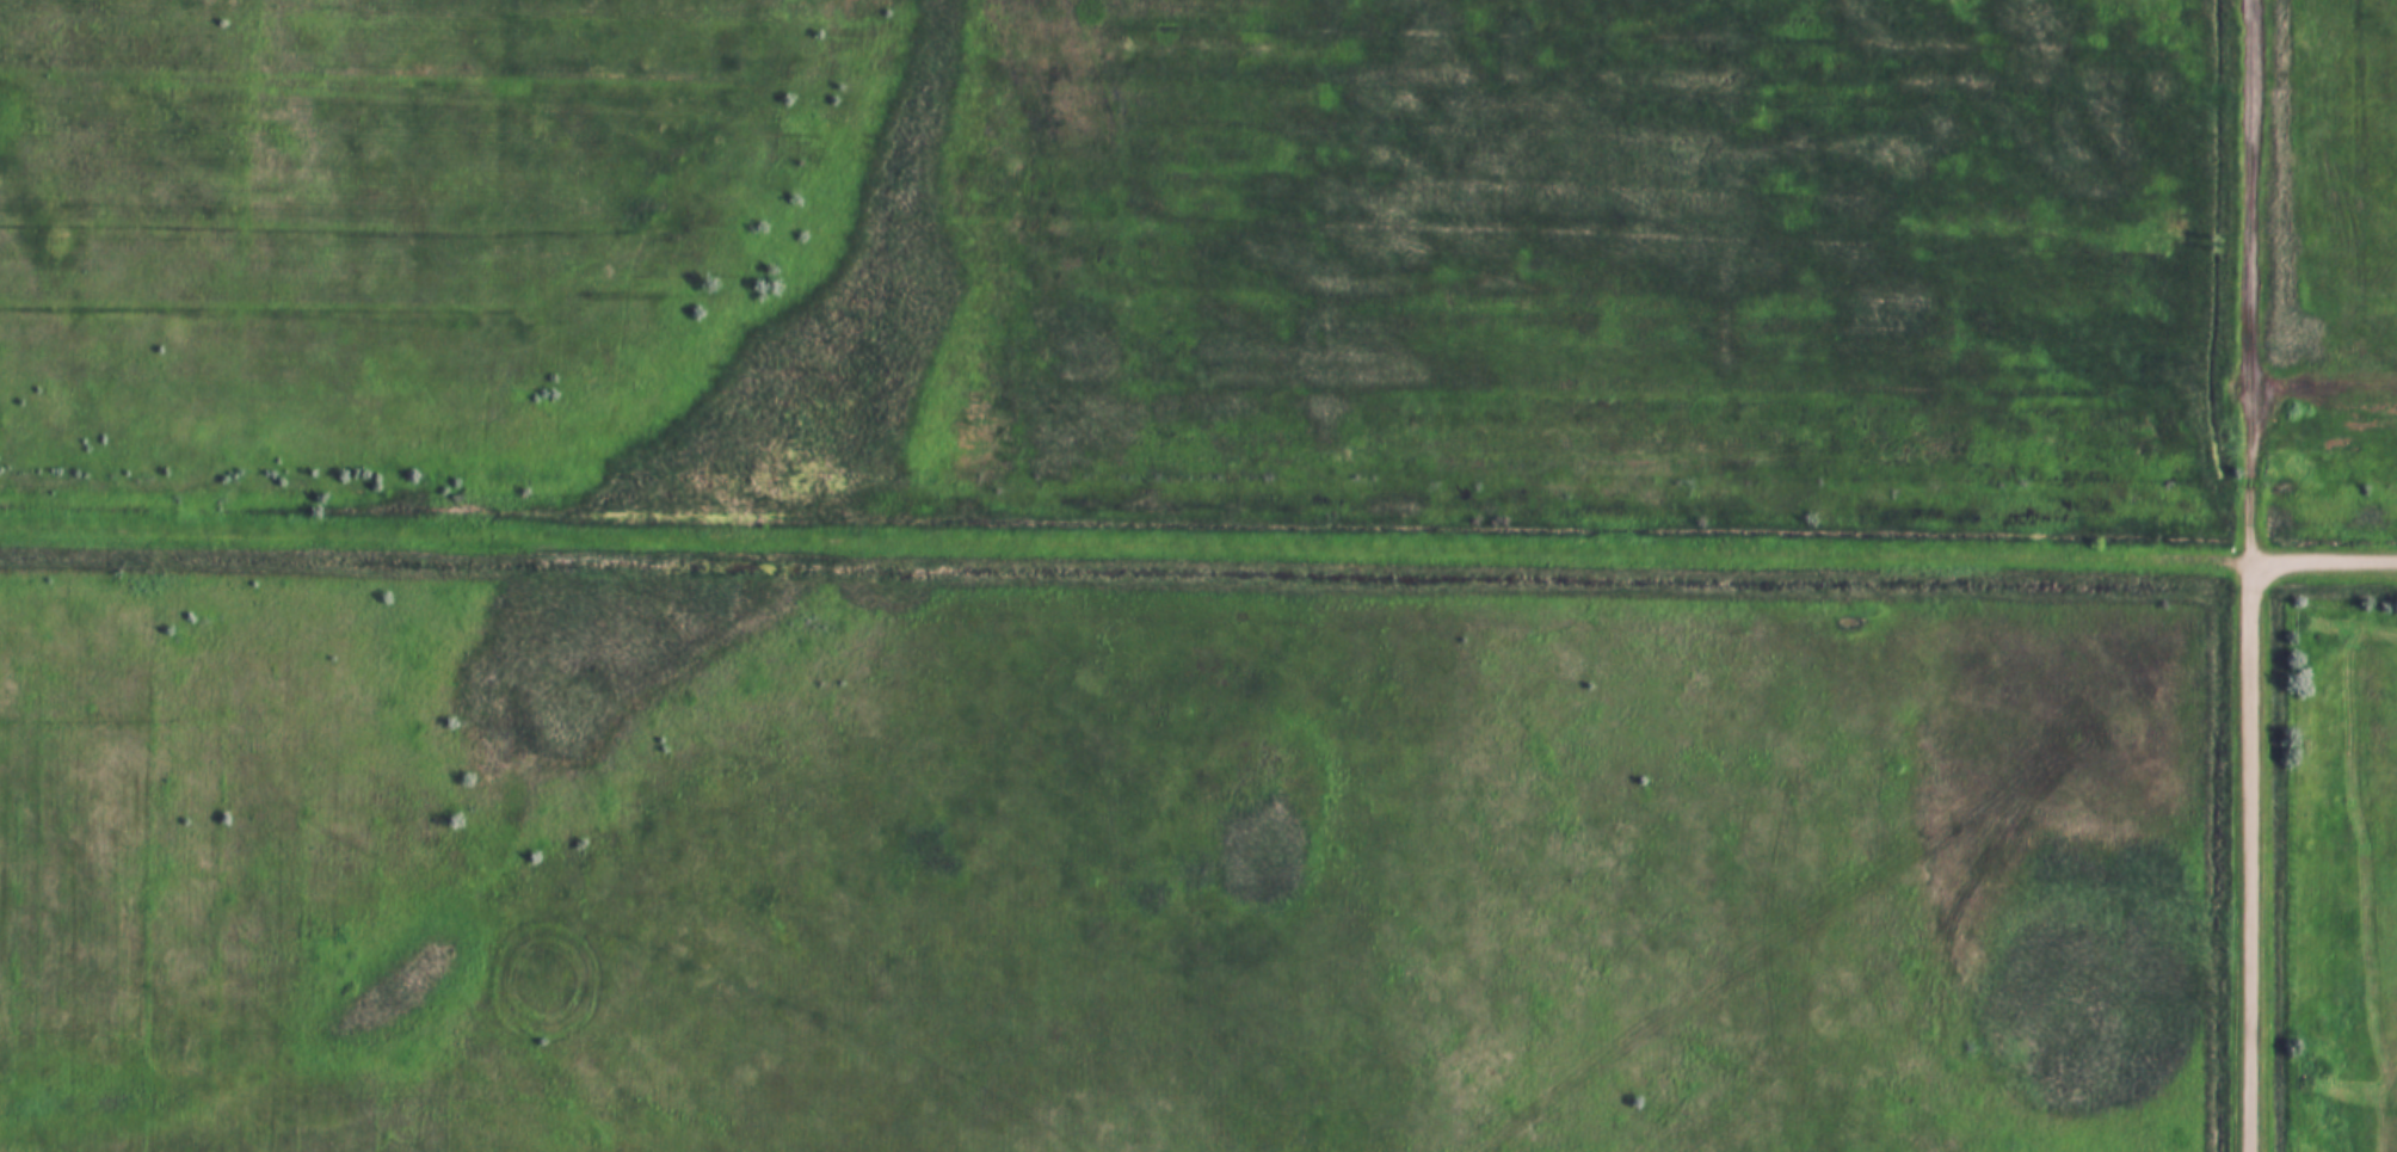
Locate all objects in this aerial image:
road: (2257, 278)
road: (2327, 556)
airport: (1110, 575)
road: (2255, 854)

